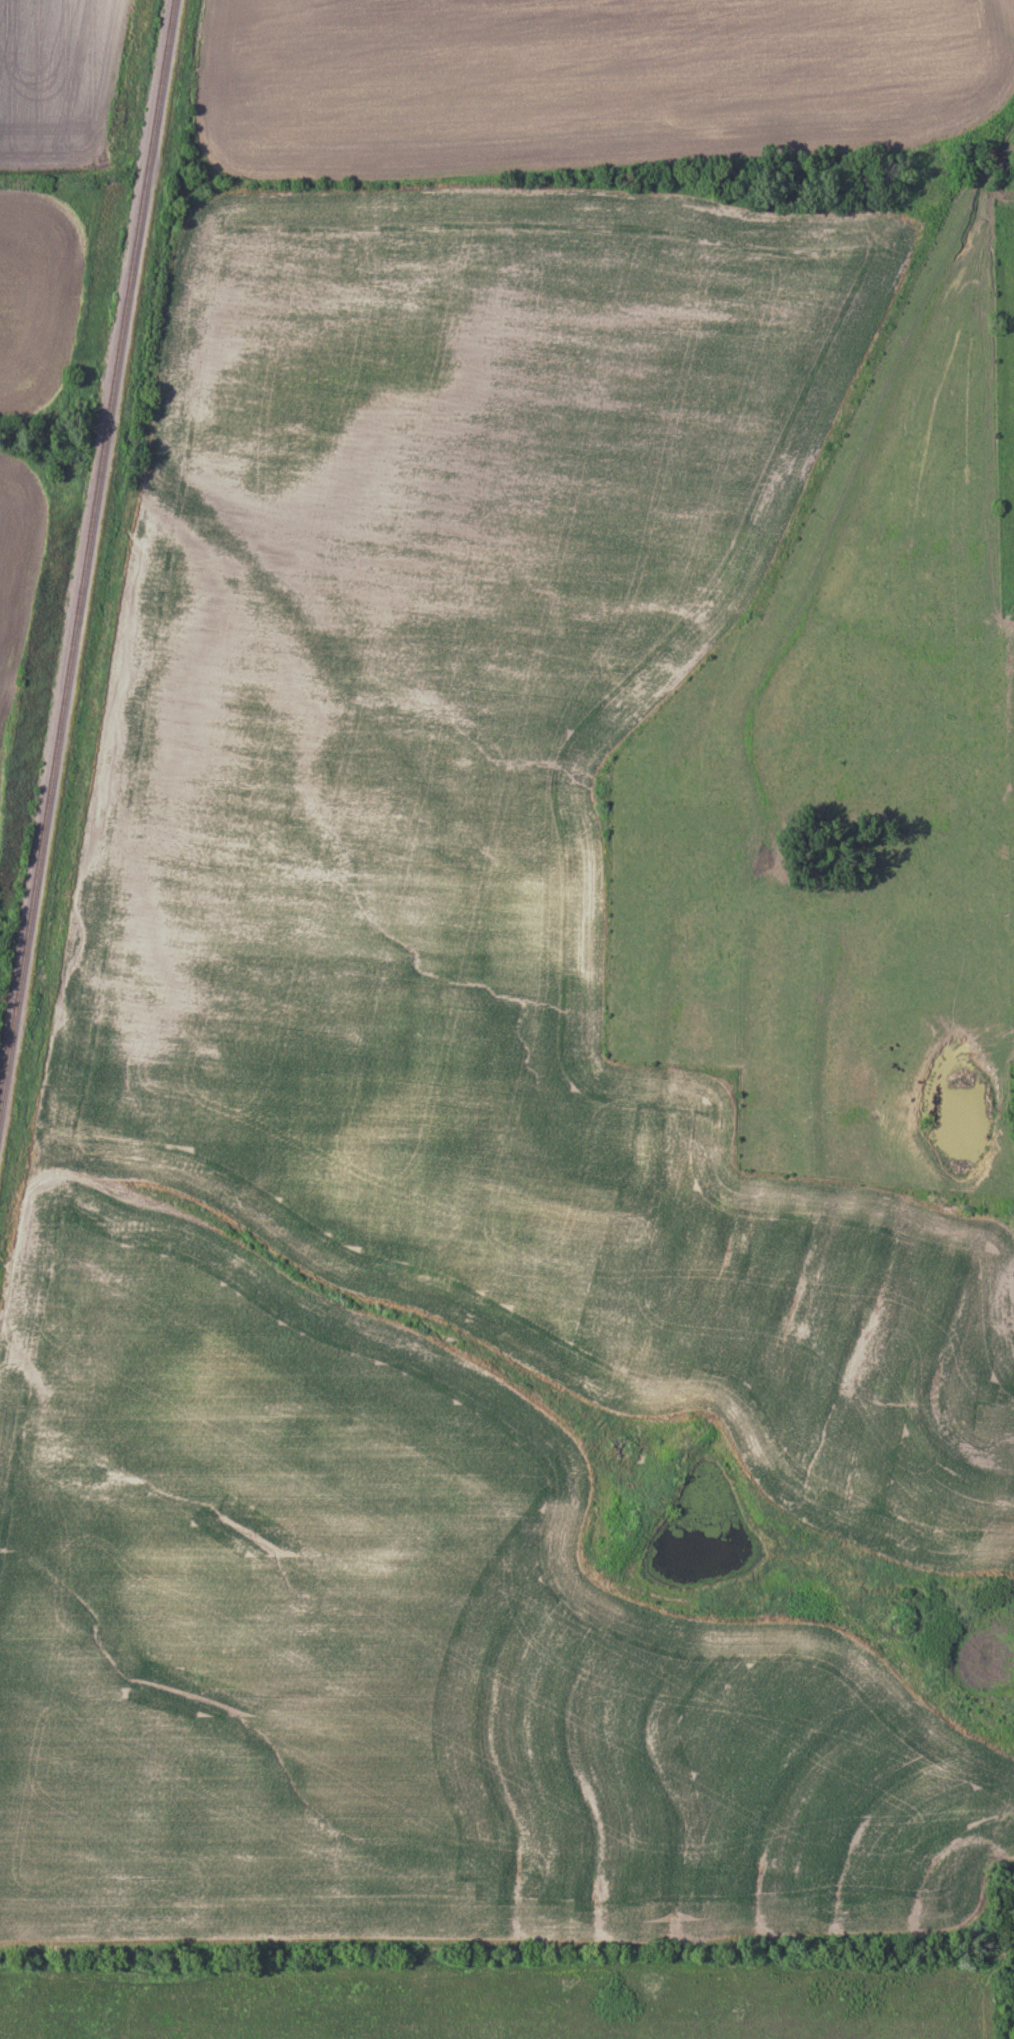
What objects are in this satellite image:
railway: (100, 611)

